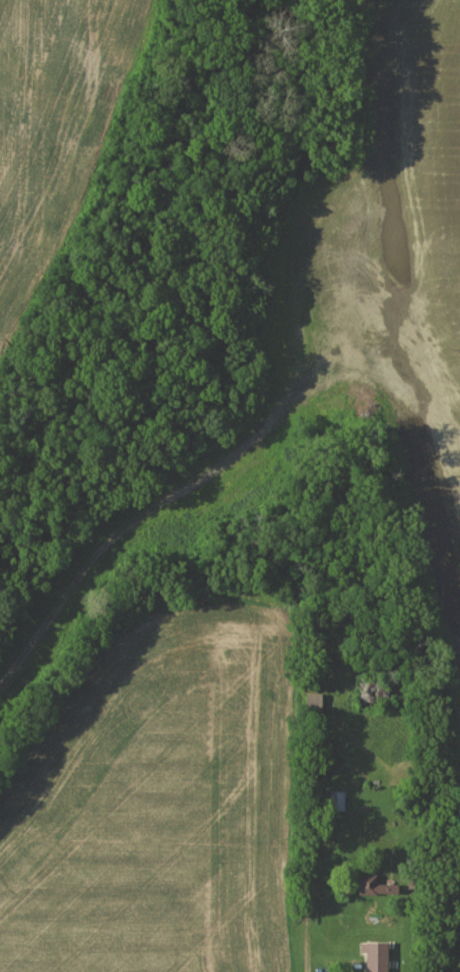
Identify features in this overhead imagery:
building: (380, 690)
building: (316, 704)
building: (339, 800)
road: (415, 812)
building: (421, 884)
building: (379, 885)
road: (307, 914)
building: (379, 957)

